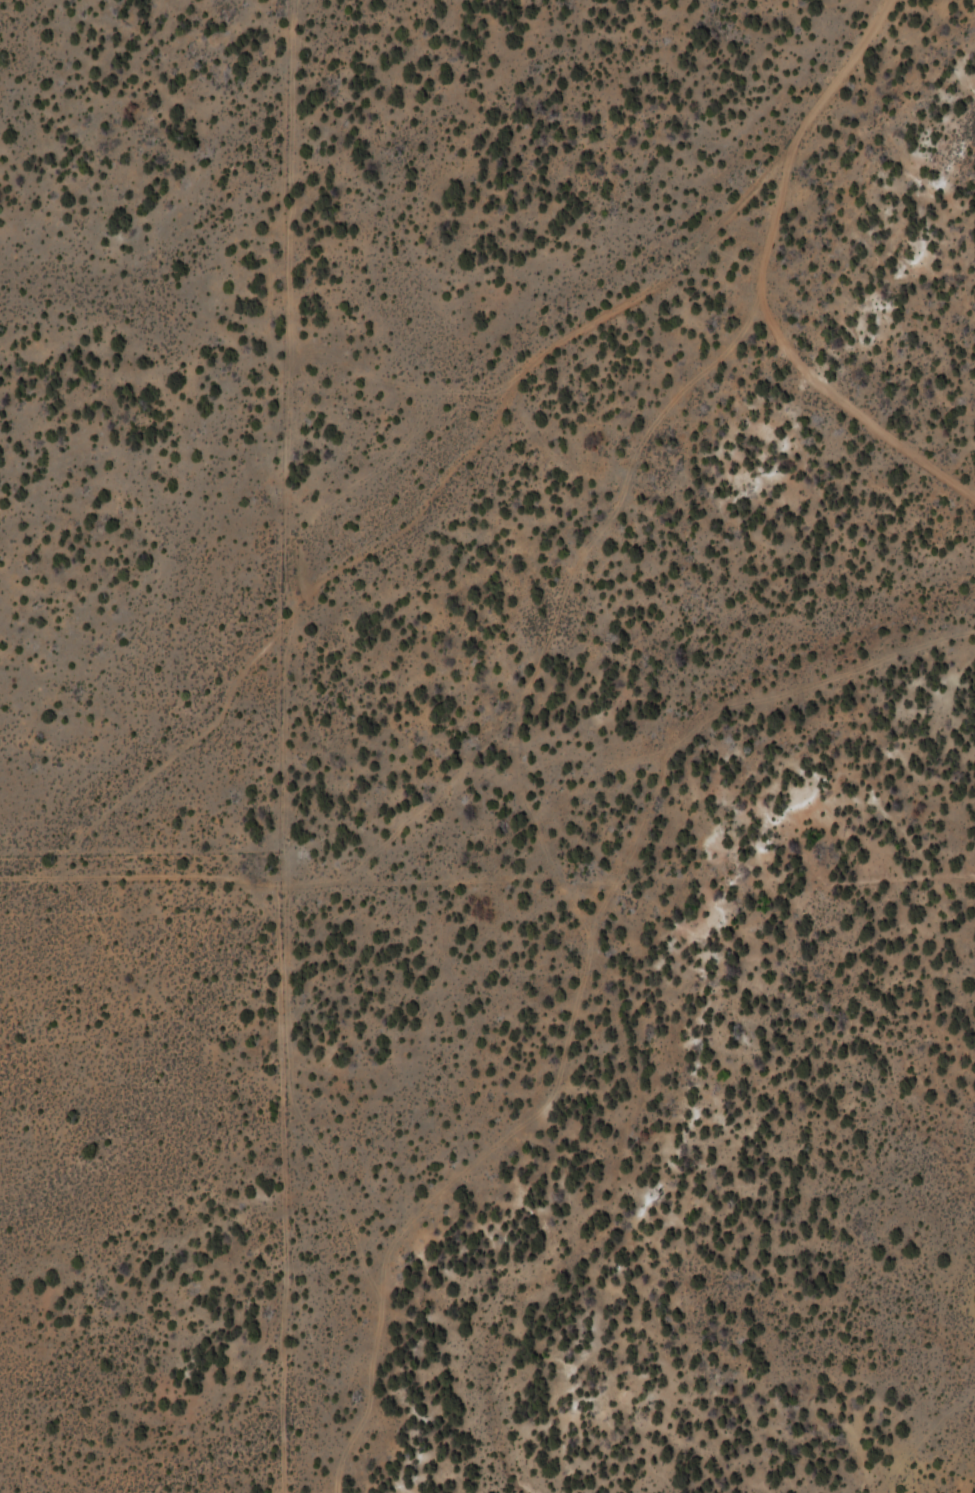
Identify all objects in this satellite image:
road: (795, 140)
road: (855, 413)
road: (404, 528)
road: (489, 731)

